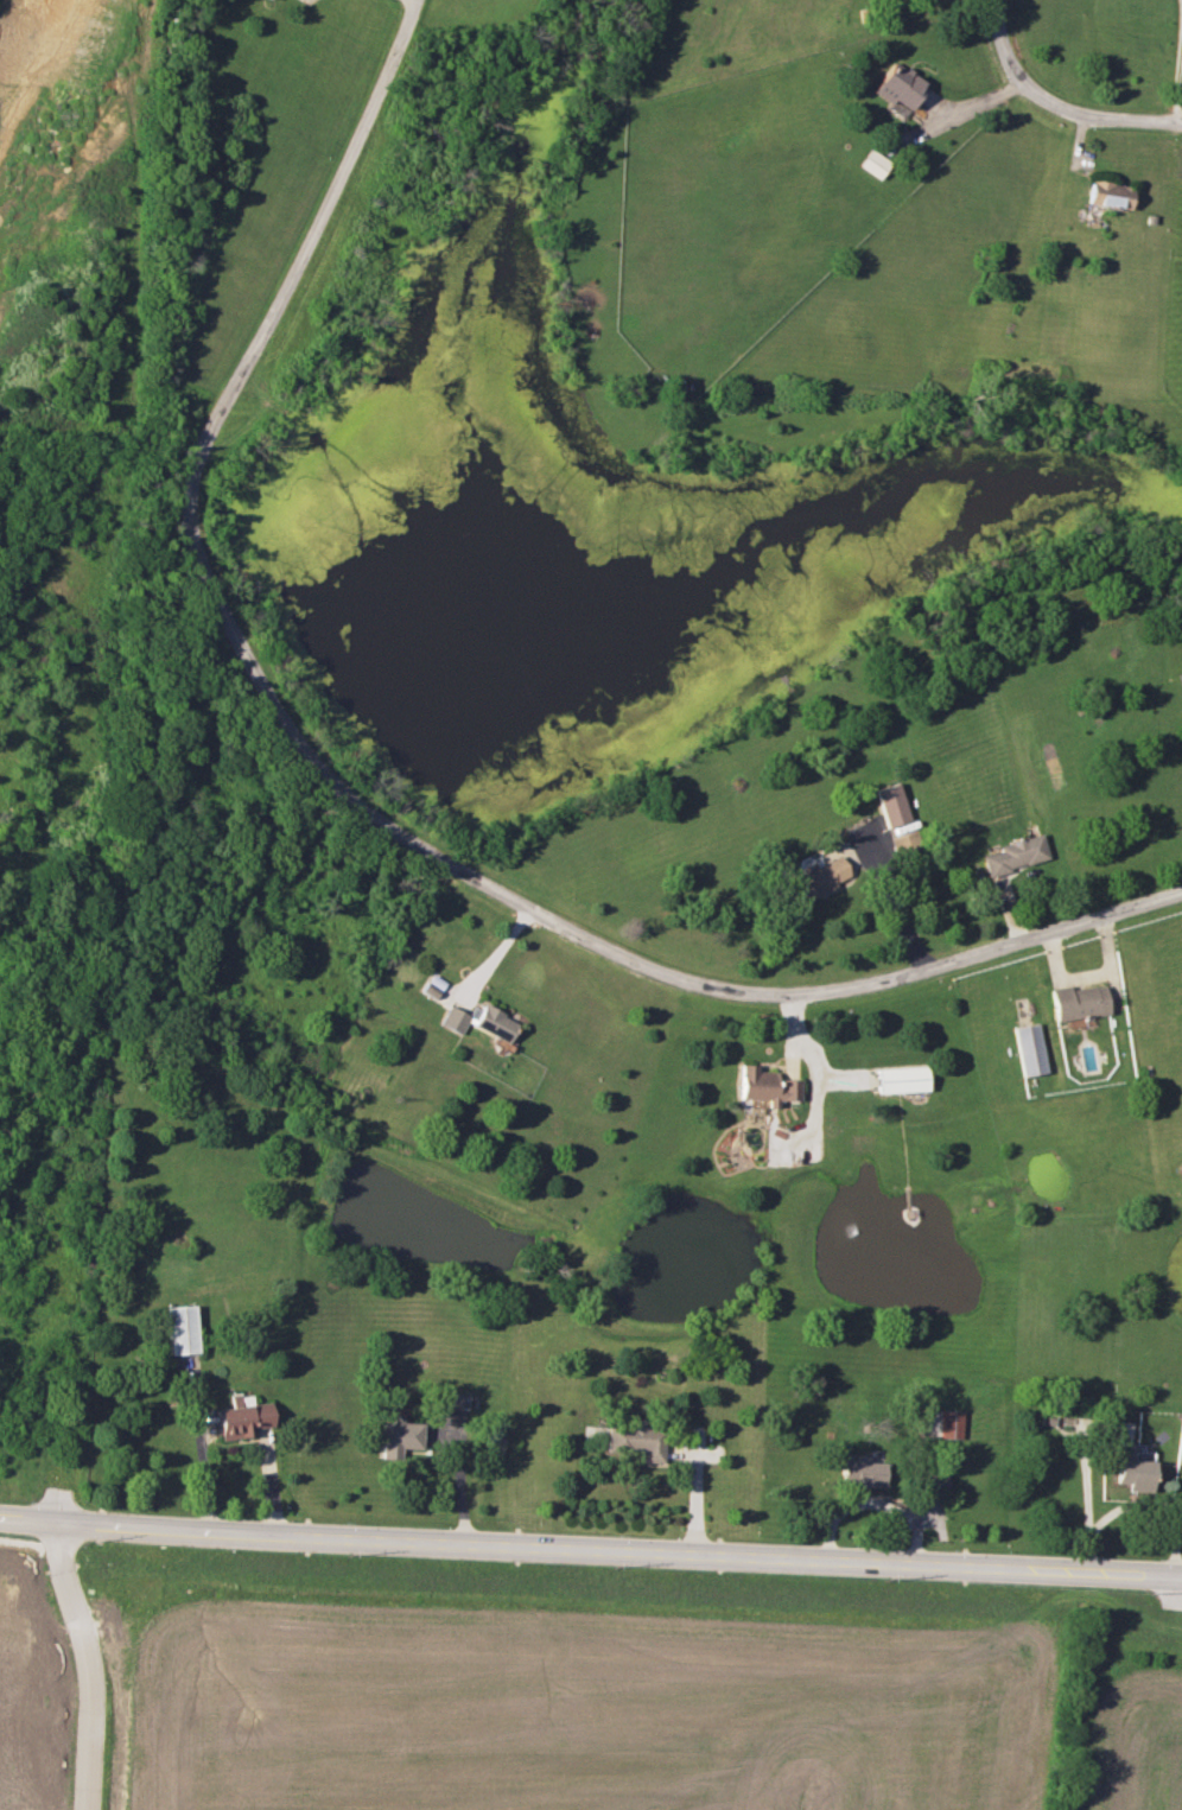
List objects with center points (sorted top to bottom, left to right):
road: (414, 0)
road: (1177, 77)
building: (898, 85)
road: (1053, 108)
building: (873, 163)
building: (1110, 193)
road: (311, 239)
building: (891, 804)
building: (905, 843)
building: (1016, 853)
building: (815, 877)
road: (894, 902)
road: (572, 931)
building: (1079, 1001)
building: (456, 1018)
building: (496, 1022)
building: (1030, 1049)
building: (902, 1079)
building: (768, 1086)
building: (183, 1328)
building: (449, 1402)
building: (243, 1416)
building: (949, 1423)
building: (400, 1435)
building: (636, 1437)
road: (199, 1447)
building: (862, 1471)
building: (1133, 1473)
building: (939, 1478)
road: (458, 1479)
road: (53, 1518)
road: (644, 1551)
road: (89, 1662)

